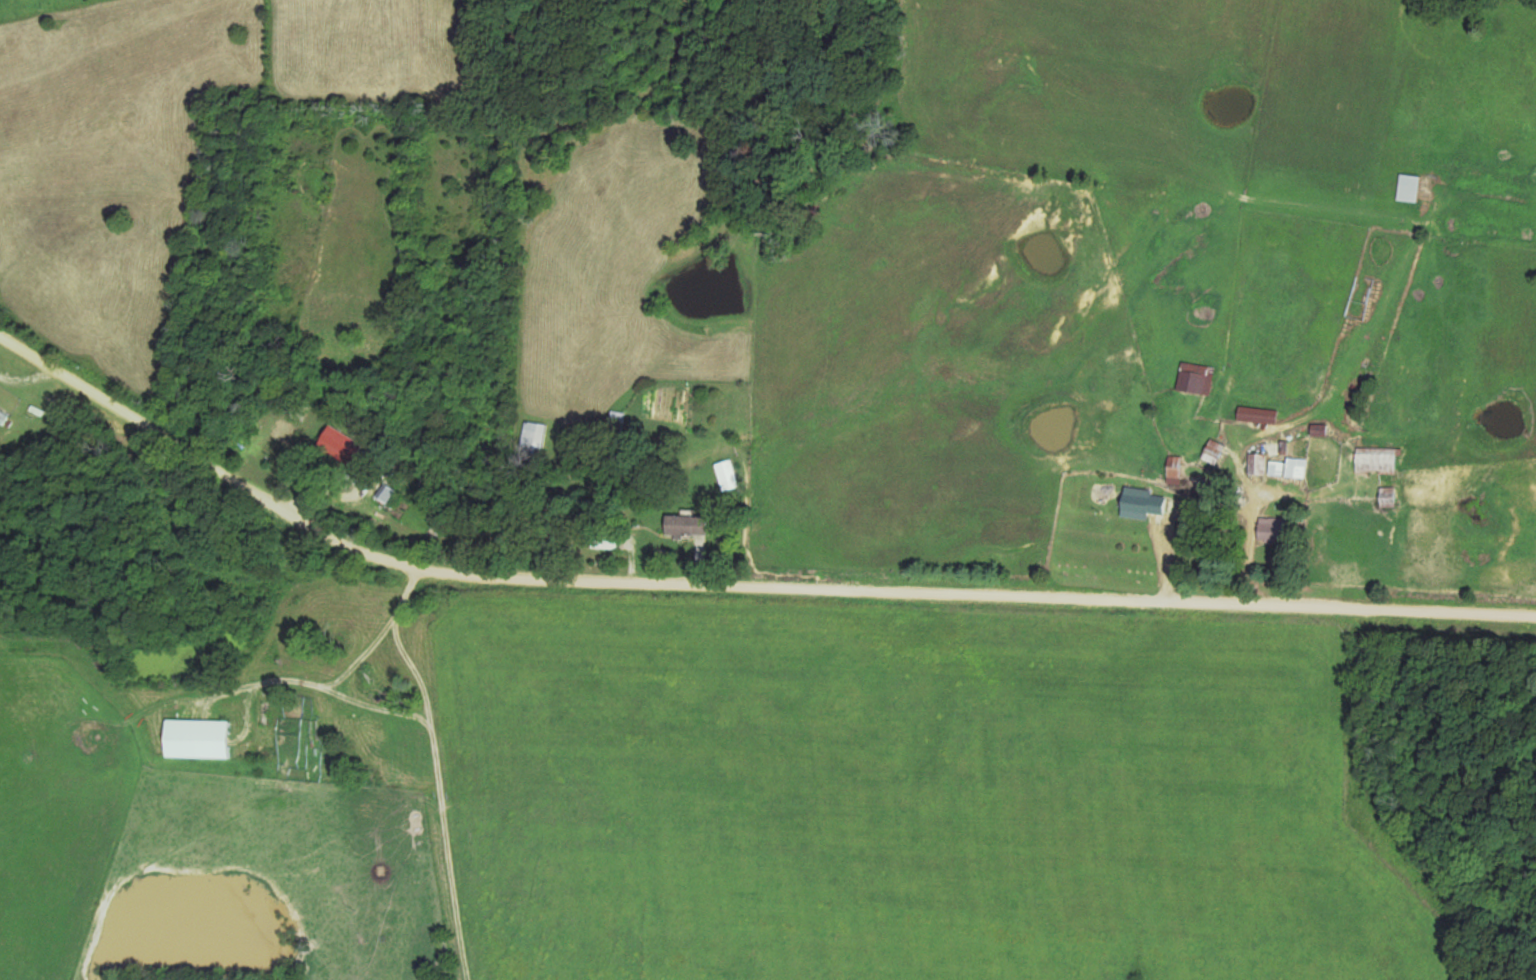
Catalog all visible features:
building: (1410, 187)
building: (1196, 377)
building: (1258, 414)
building: (3, 417)
building: (532, 435)
building: (341, 442)
building: (1215, 450)
building: (1377, 459)
building: (1257, 462)
building: (726, 474)
building: (1389, 495)
building: (1144, 502)
building: (687, 525)
building: (1274, 528)
building: (605, 539)
road: (737, 578)
building: (266, 713)
building: (218, 718)
building: (377, 741)

